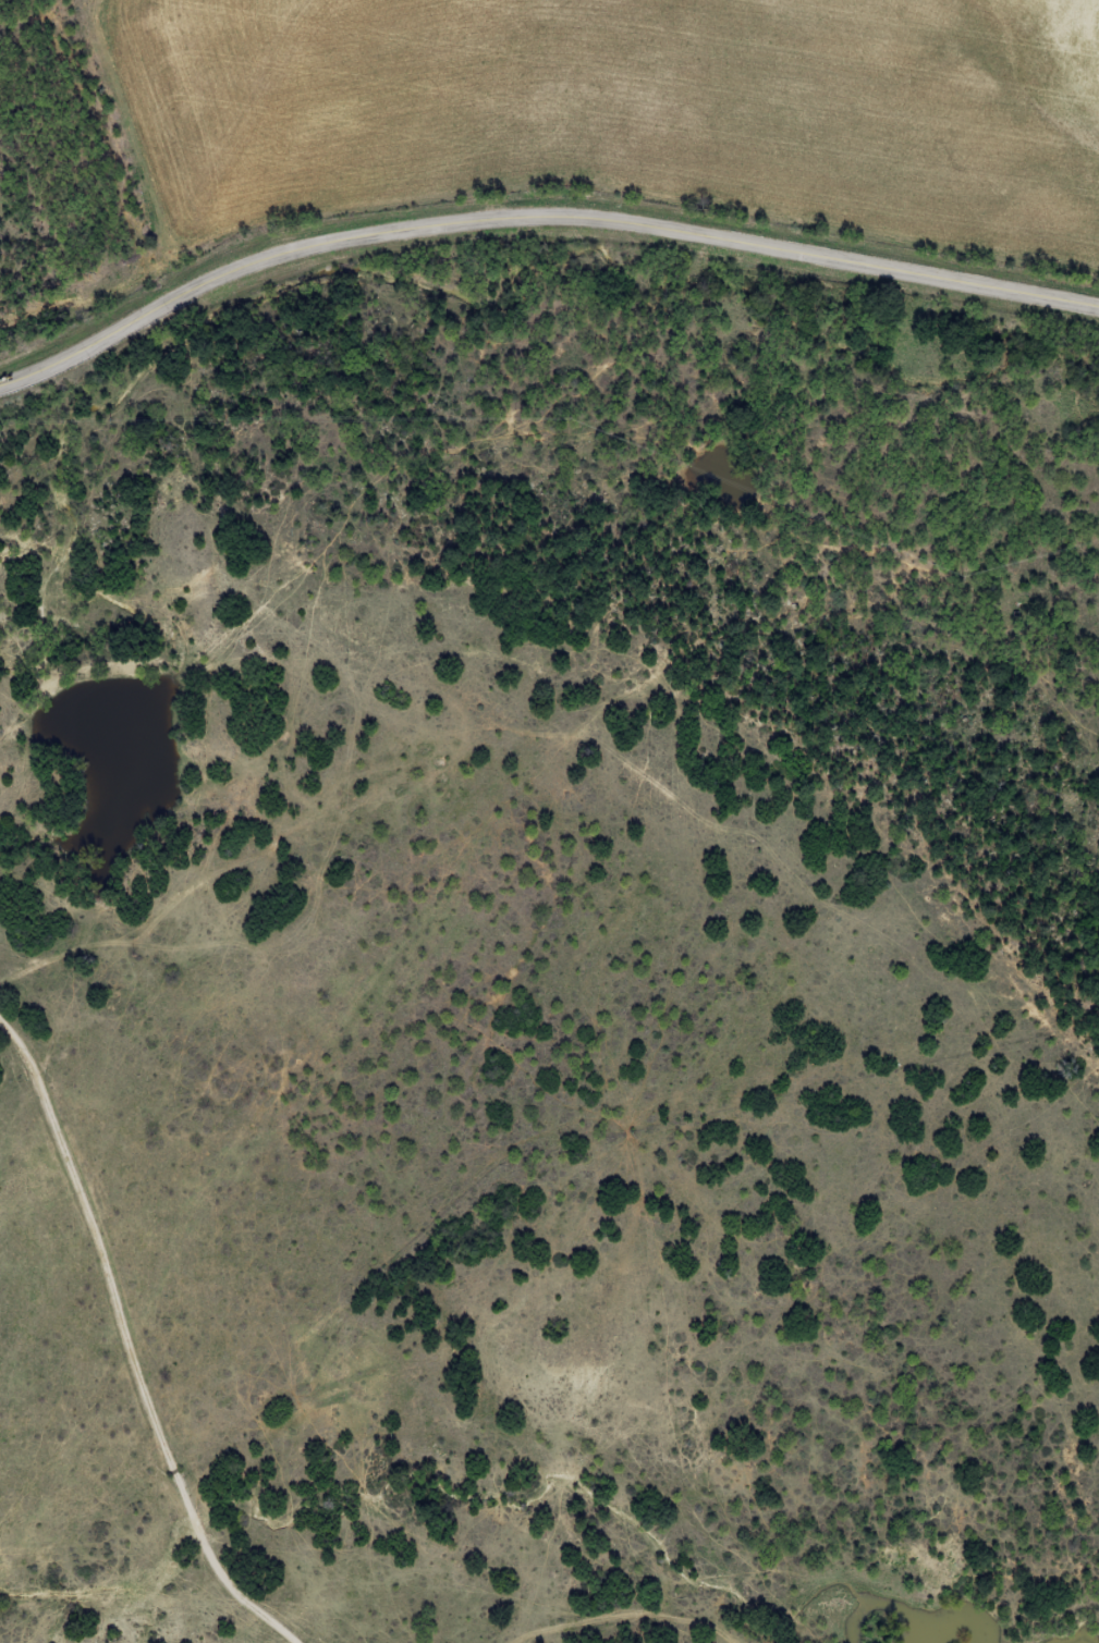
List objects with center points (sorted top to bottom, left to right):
road: (537, 217)

